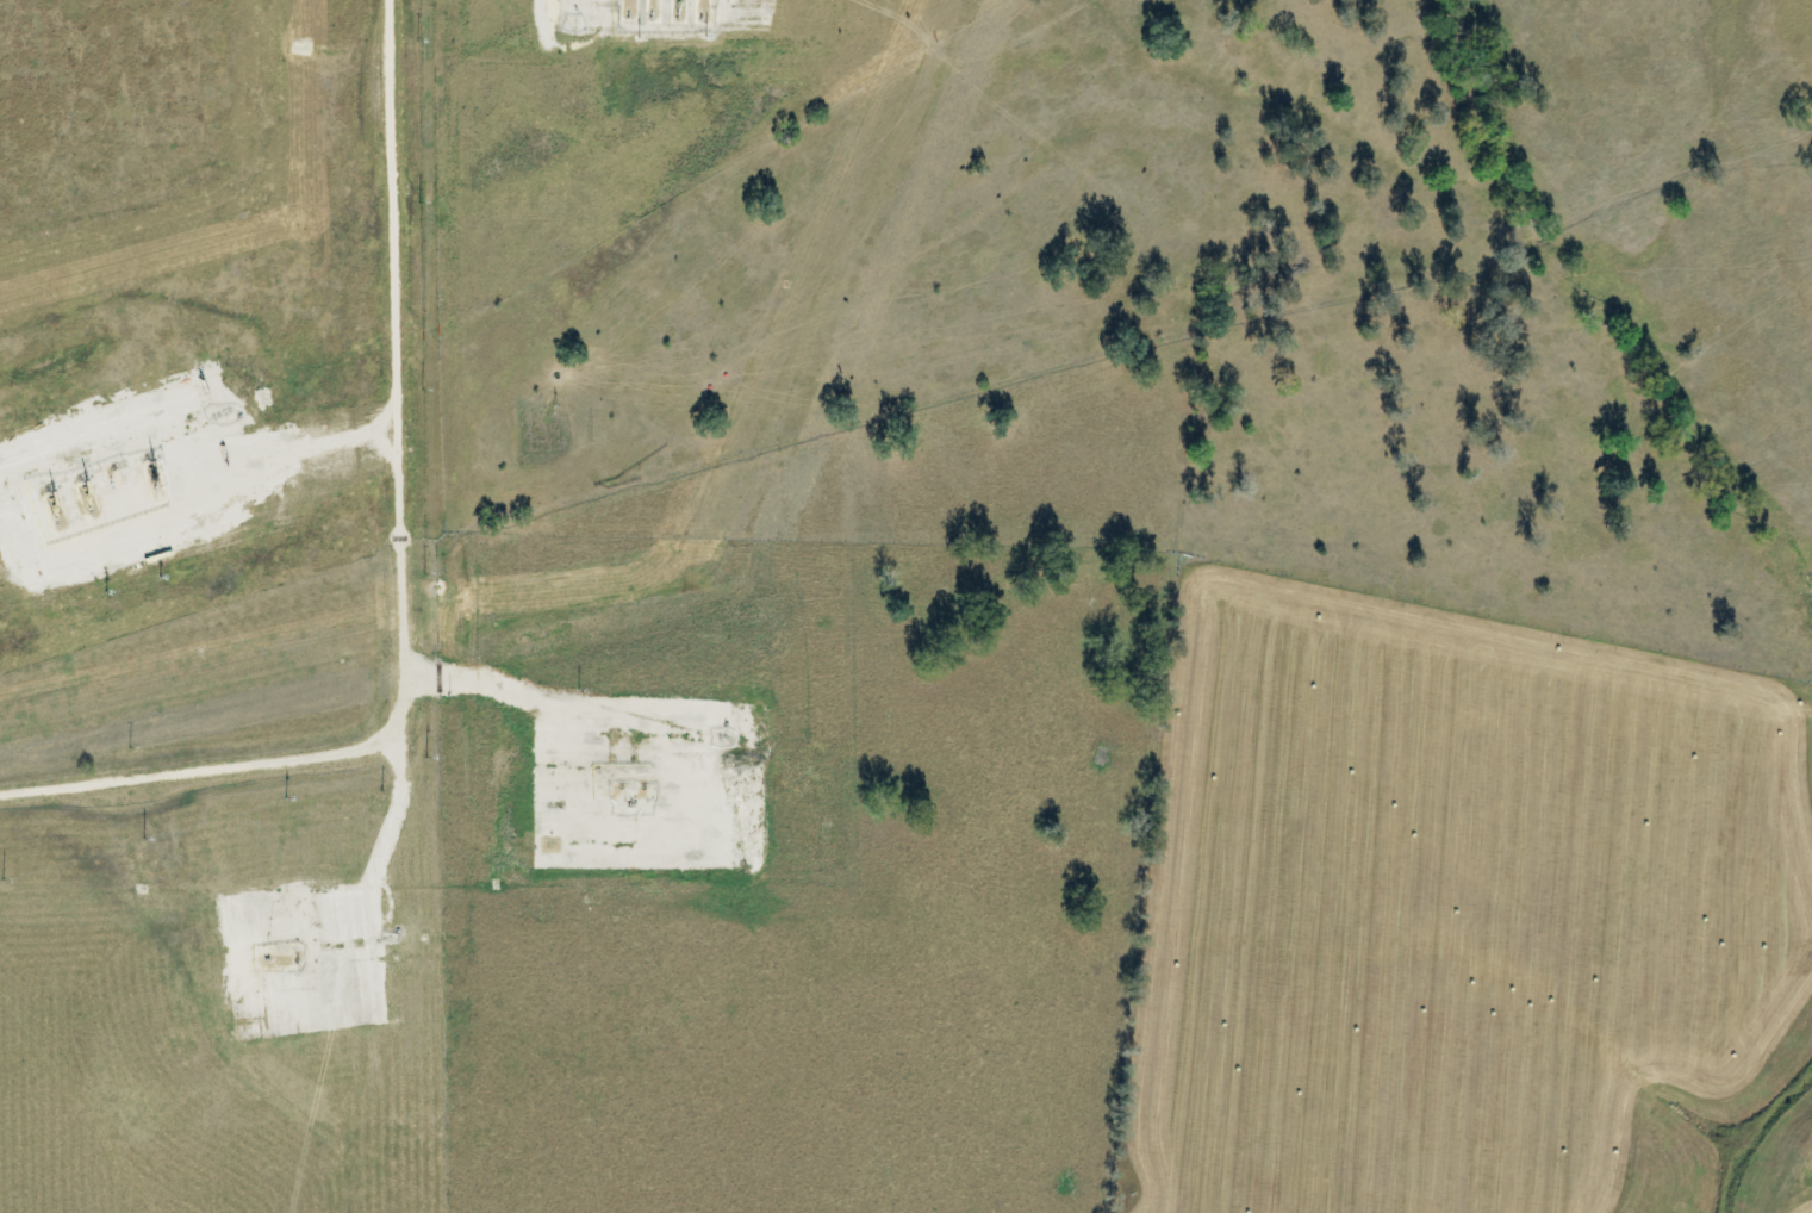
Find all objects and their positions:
road: (736, 10)
road: (183, 497)
road: (403, 564)
road: (604, 711)
road: (367, 865)

